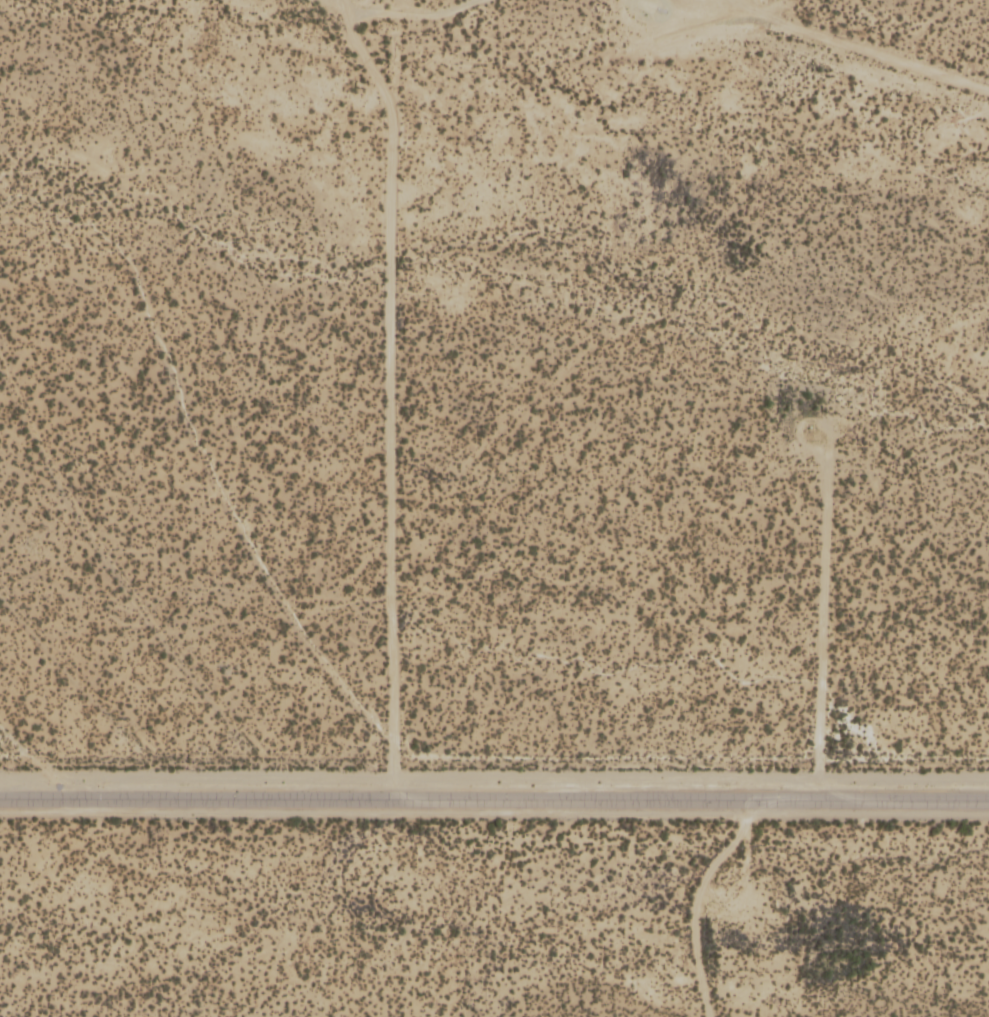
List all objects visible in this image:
building: (419, 649)
building: (442, 684)
road: (494, 802)

